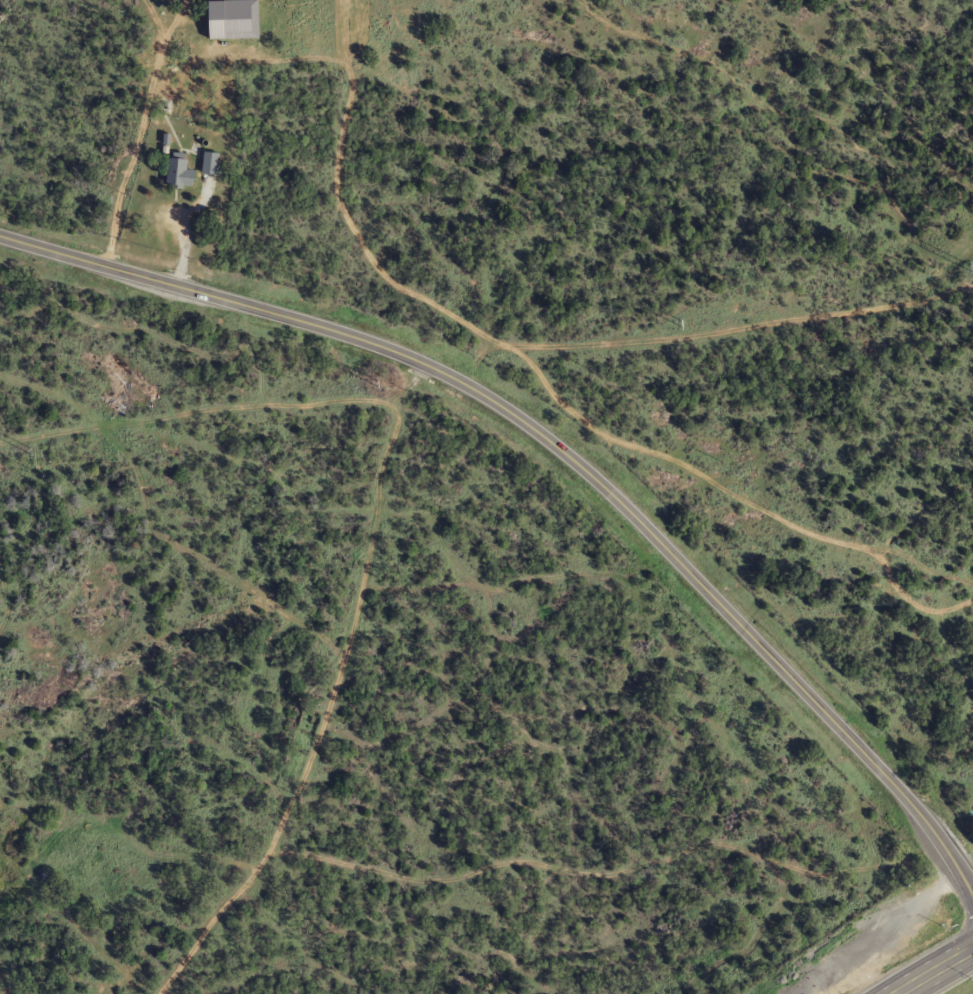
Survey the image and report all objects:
road: (202, 12)
building: (221, 37)
road: (143, 122)
building: (210, 162)
building: (179, 171)
power tower: (966, 263)
power tower: (680, 322)
power tower: (376, 382)
power tower: (29, 448)
road: (563, 452)
road: (972, 946)
road: (928, 968)

